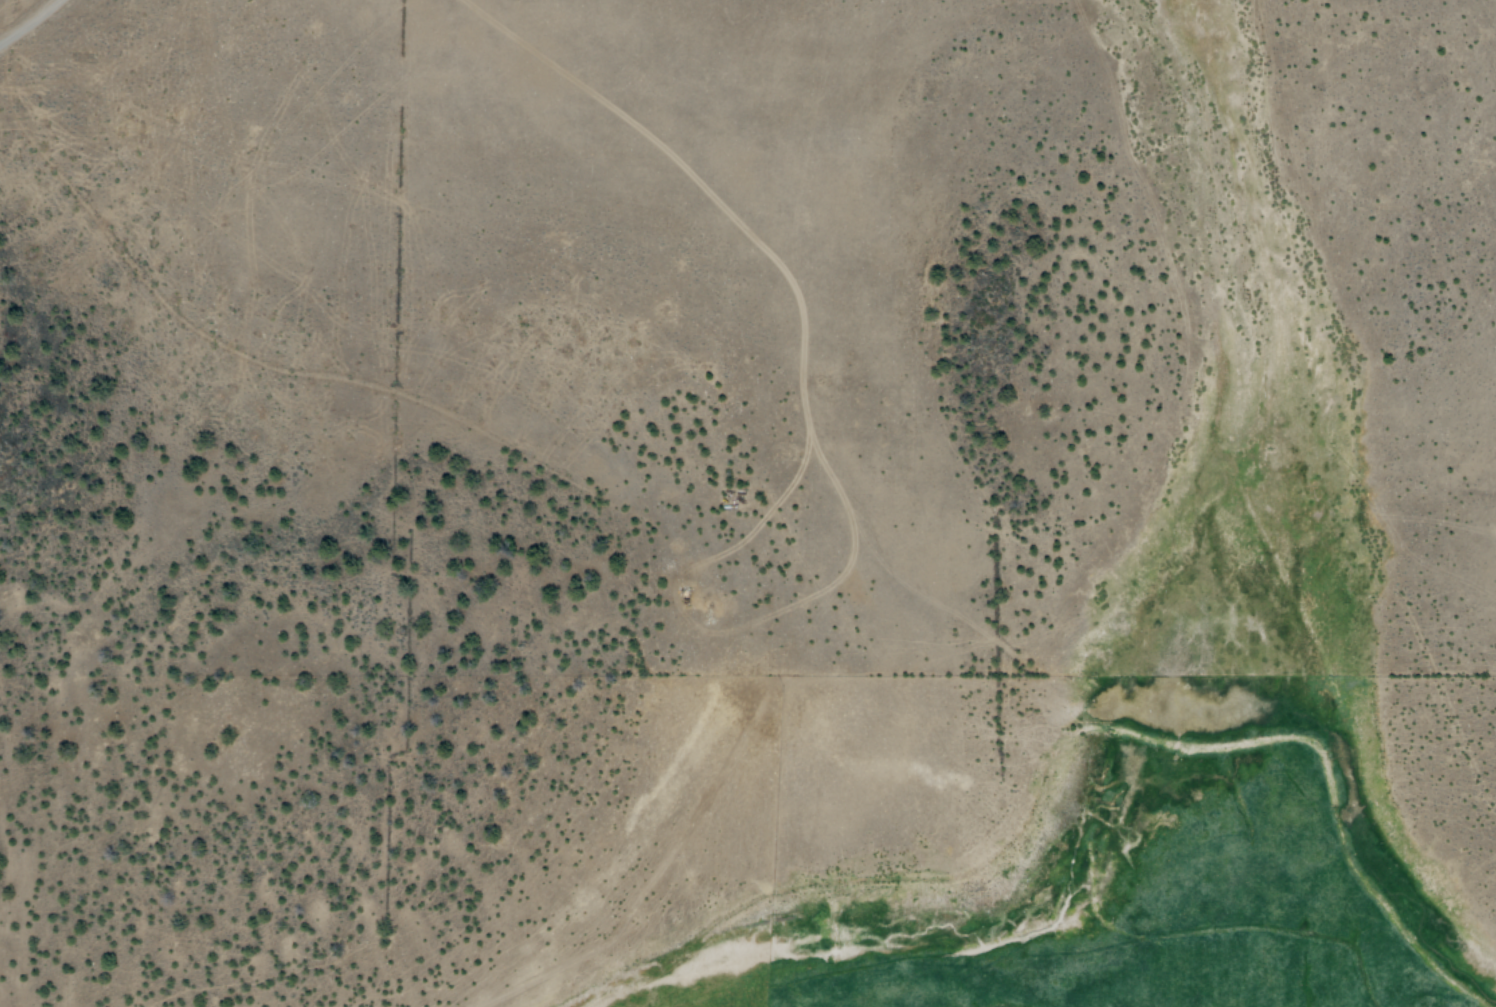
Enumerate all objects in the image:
road: (24, 18)

